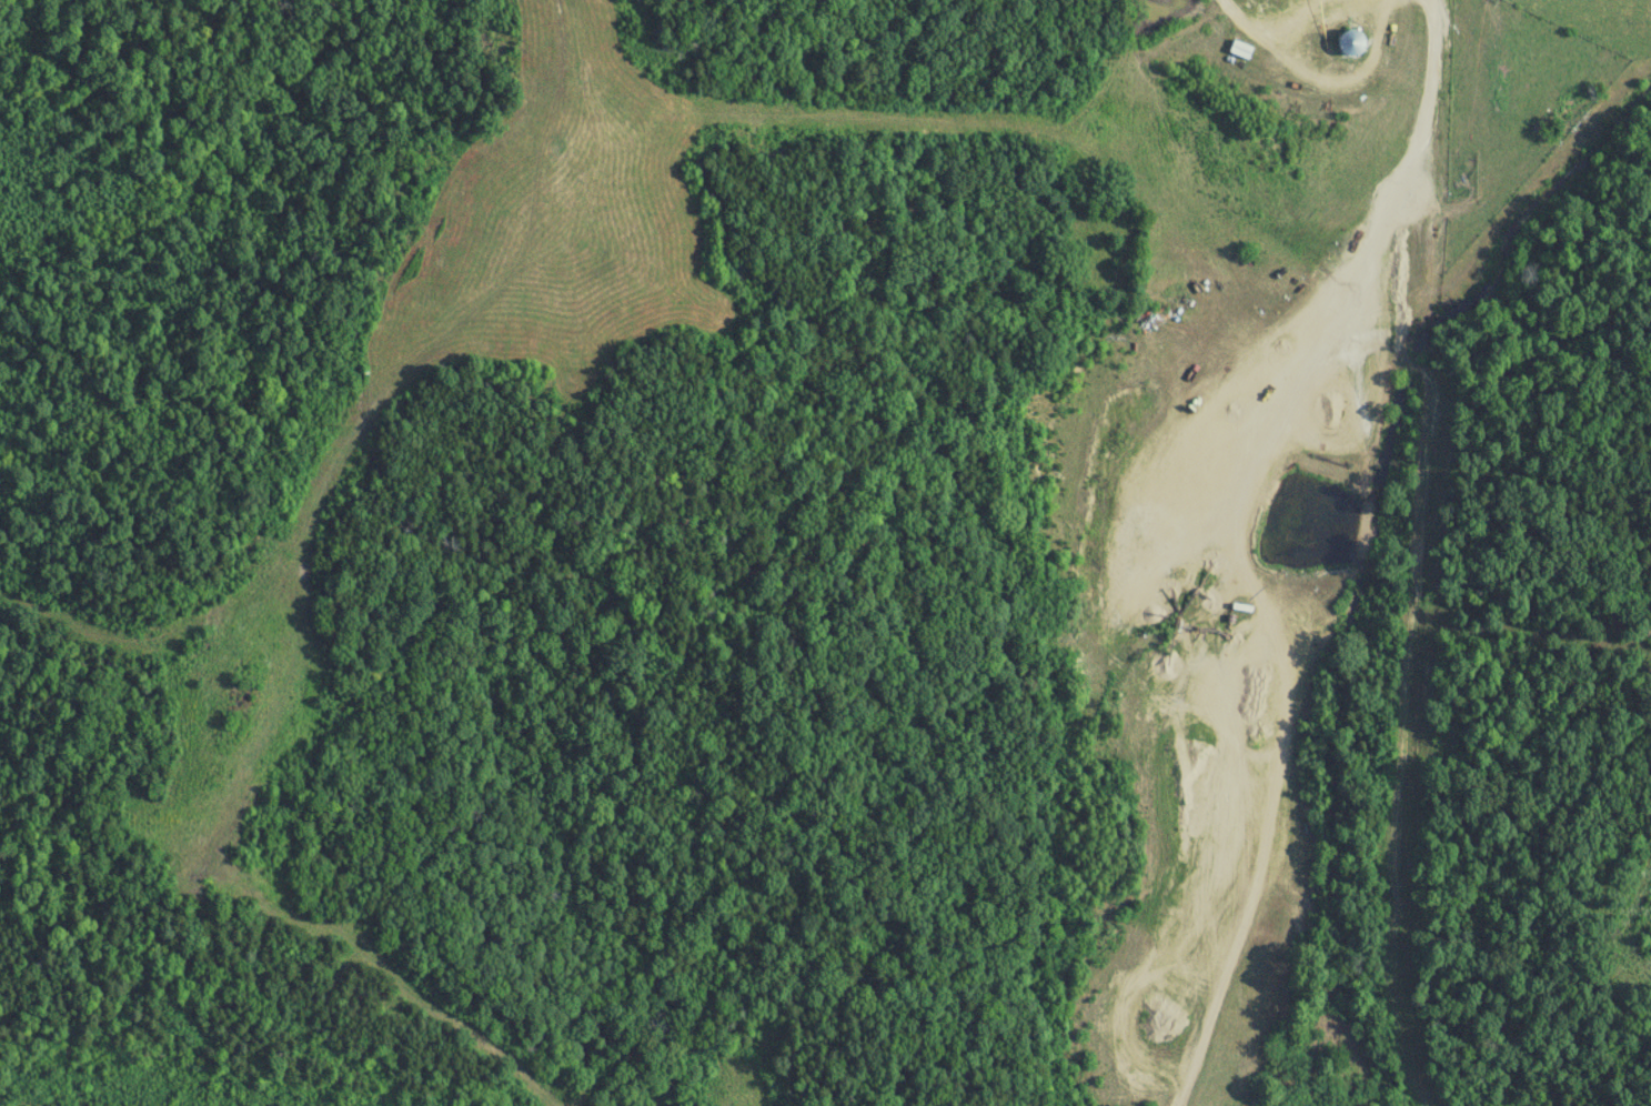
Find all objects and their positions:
building: (1353, 43)
building: (1580, 103)
road: (1432, 132)
park: (1099, 251)
road: (1449, 295)
road: (1328, 693)

